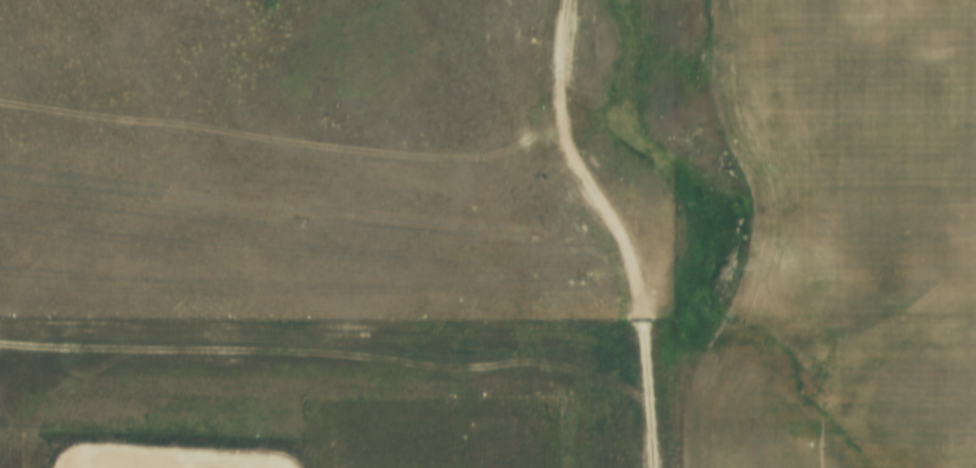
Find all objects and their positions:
road: (610, 229)

